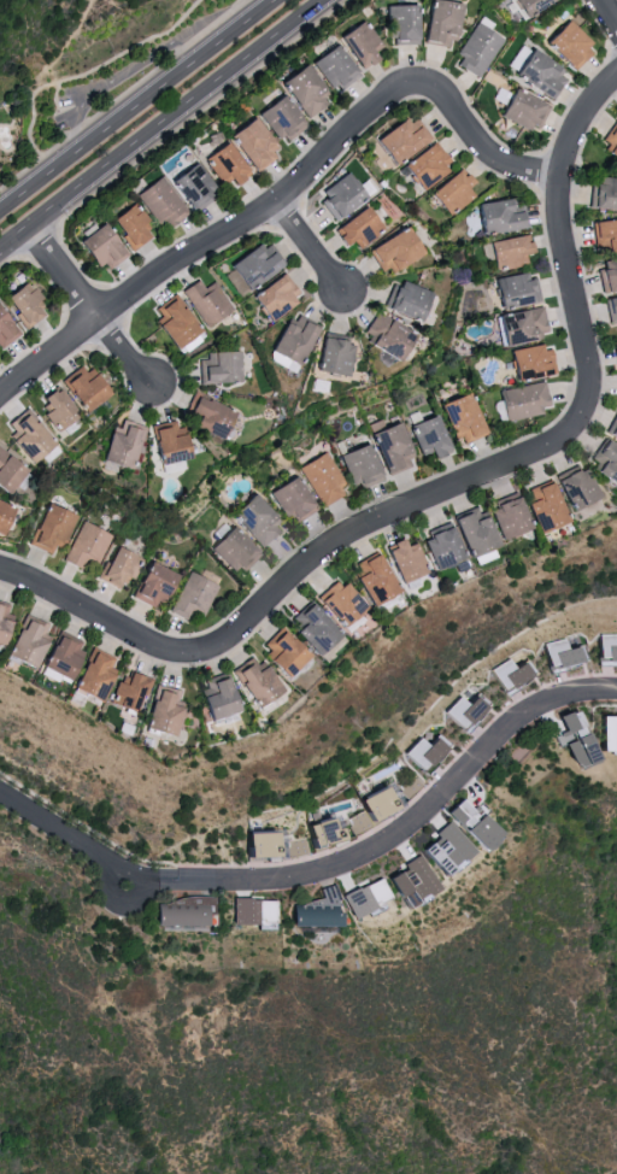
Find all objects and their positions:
building: (528, 5)
road: (609, 12)
building: (437, 22)
building: (399, 23)
building: (357, 42)
building: (566, 45)
building: (475, 49)
road: (135, 66)
building: (330, 66)
building: (537, 72)
building: (300, 89)
road: (136, 104)
building: (522, 108)
building: (277, 118)
road: (161, 123)
building: (399, 137)
building: (610, 141)
building: (248, 143)
road: (480, 143)
building: (222, 164)
building: (425, 164)
building: (190, 184)
building: (449, 192)
building: (603, 193)
building: (339, 195)
building: (159, 201)
building: (128, 225)
building: (355, 228)
building: (604, 234)
road: (210, 243)
building: (96, 247)
road: (308, 247)
building: (390, 251)
building: (506, 251)
building: (252, 264)
building: (607, 274)
building: (515, 289)
building: (272, 295)
building: (404, 299)
building: (206, 300)
building: (22, 304)
road: (89, 309)
building: (611, 310)
building: (174, 321)
building: (521, 325)
building: (4, 330)
building: (383, 334)
building: (292, 337)
building: (331, 353)
building: (613, 356)
building: (529, 362)
building: (216, 368)
building: (82, 388)
building: (522, 400)
building: (54, 407)
building: (205, 415)
building: (459, 418)
building: (612, 428)
building: (27, 436)
building: (427, 436)
building: (165, 442)
building: (119, 444)
building: (388, 447)
road: (545, 448)
building: (606, 462)
building: (355, 465)
building: (7, 472)
building: (321, 479)
building: (575, 487)
building: (289, 499)
building: (542, 507)
building: (2, 511)
building: (506, 517)
building: (253, 520)
building: (48, 528)
building: (471, 530)
building: (87, 545)
building: (440, 547)
building: (231, 550)
building: (402, 560)
building: (116, 568)
building: (370, 580)
building: (151, 585)
building: (194, 593)
building: (336, 601)
road: (96, 615)
building: (2, 618)
building: (310, 627)
building: (25, 641)
building: (609, 650)
building: (560, 652)
building: (281, 653)
building: (59, 654)
building: (505, 674)
building: (90, 675)
building: (253, 681)
building: (128, 692)
building: (213, 698)
building: (160, 711)
building: (458, 711)
building: (606, 734)
building: (570, 738)
building: (419, 752)
building: (368, 805)
road: (415, 822)
building: (469, 826)
building: (252, 845)
road: (87, 849)
building: (443, 850)
building: (407, 882)
building: (362, 897)
building: (262, 910)
building: (313, 910)
building: (180, 911)
building: (241, 911)

